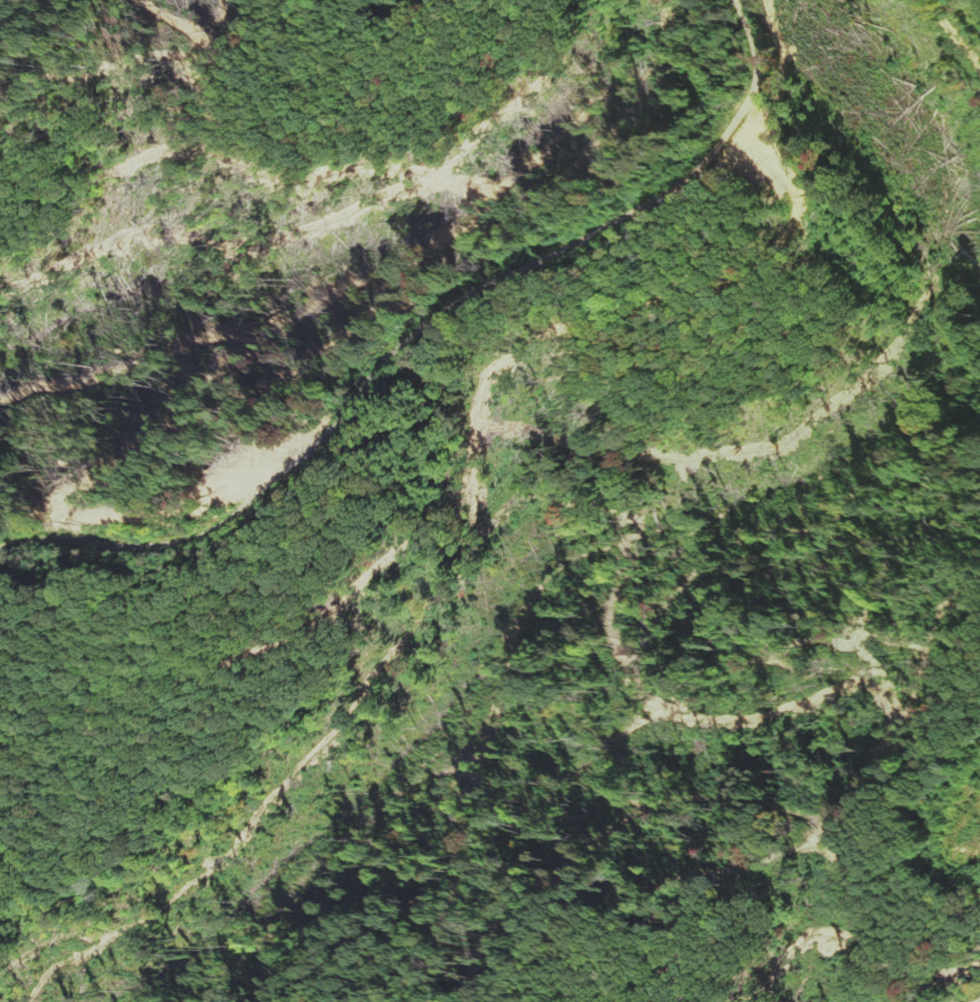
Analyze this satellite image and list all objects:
road: (424, 330)

